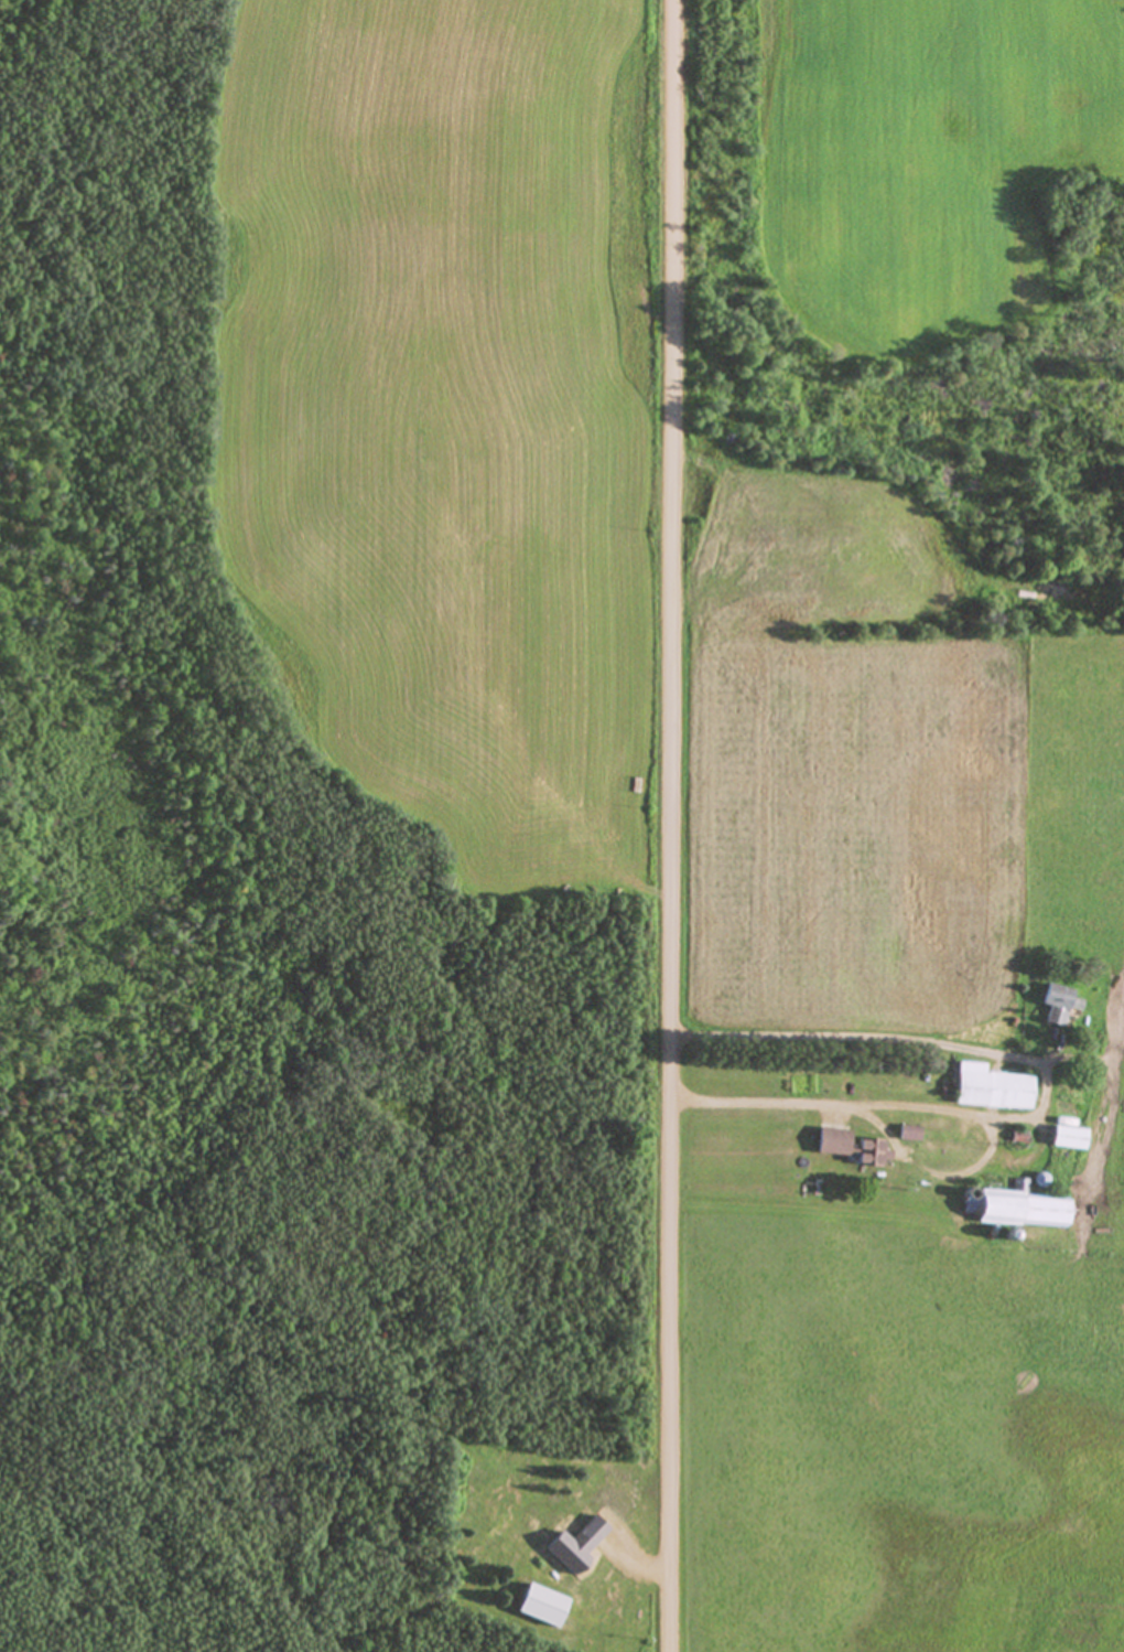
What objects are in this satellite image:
road: (667, 825)
building: (1056, 1004)
road: (1028, 1028)
road: (1044, 1086)
building: (988, 1087)
crop: (900, 1101)
building: (1064, 1137)
building: (853, 1148)
building: (566, 1203)
building: (1018, 1209)

